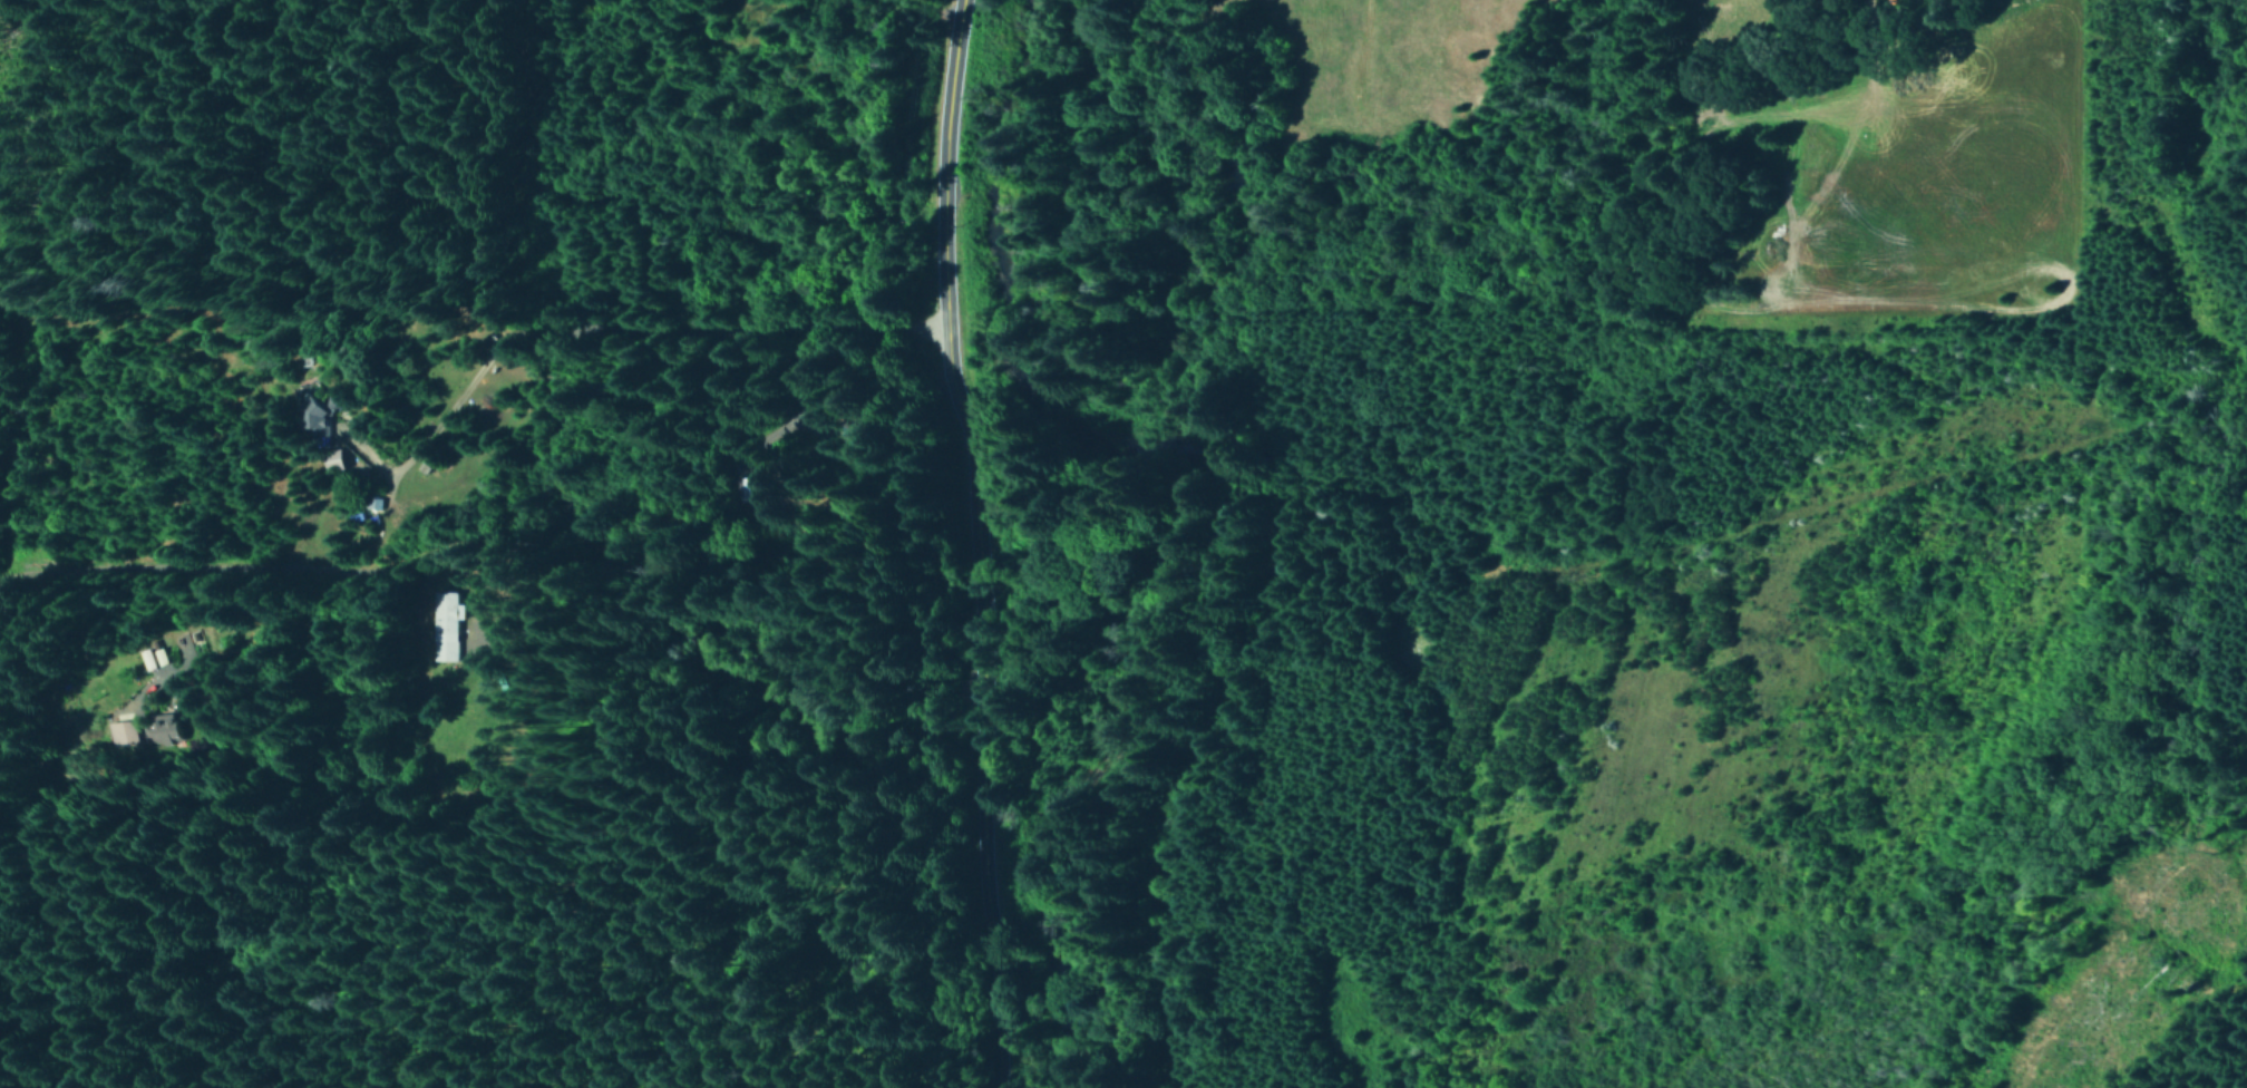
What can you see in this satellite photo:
road: (600, 314)
building: (315, 411)
building: (334, 459)
river: (1142, 523)
road: (942, 543)
road: (408, 545)
building: (446, 624)
building: (154, 658)
building: (165, 729)
building: (120, 732)

